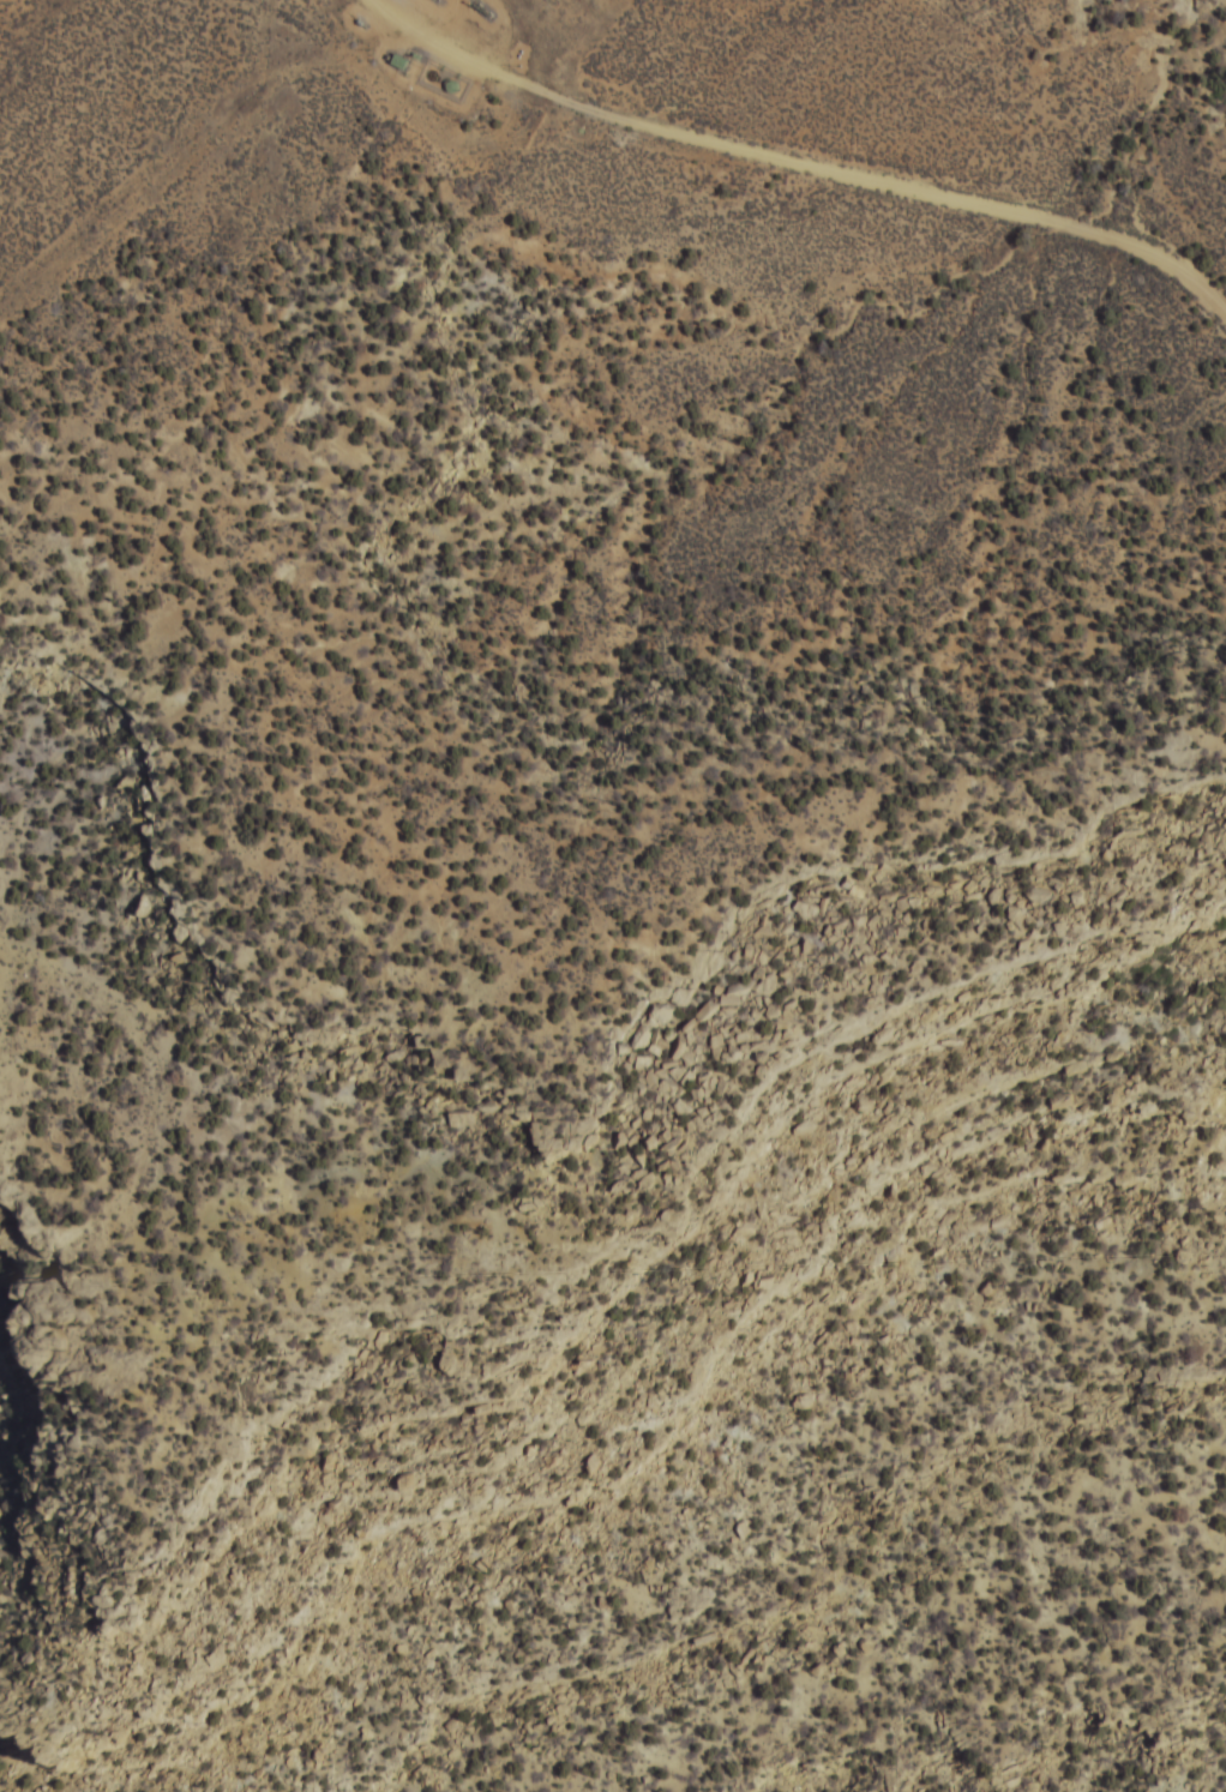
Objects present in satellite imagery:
road: (949, 124)

